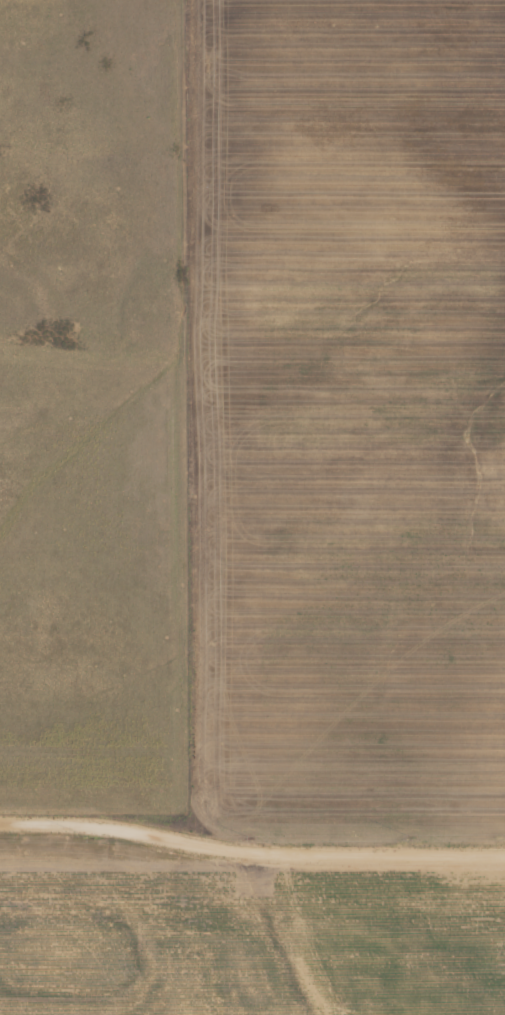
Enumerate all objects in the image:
road: (251, 848)

